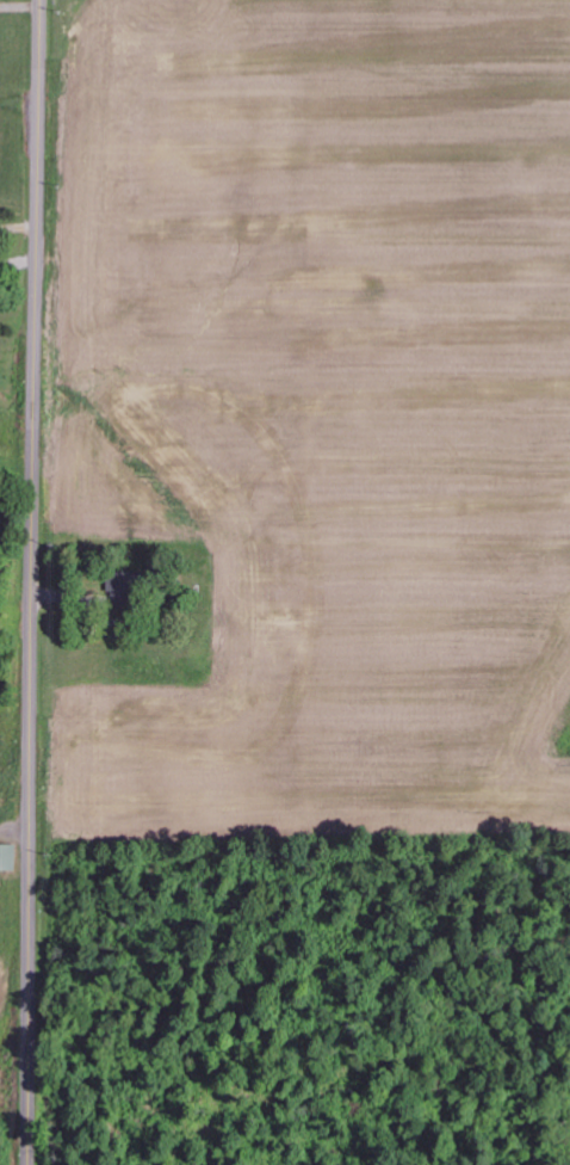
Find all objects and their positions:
road: (31, 581)
building: (8, 857)

